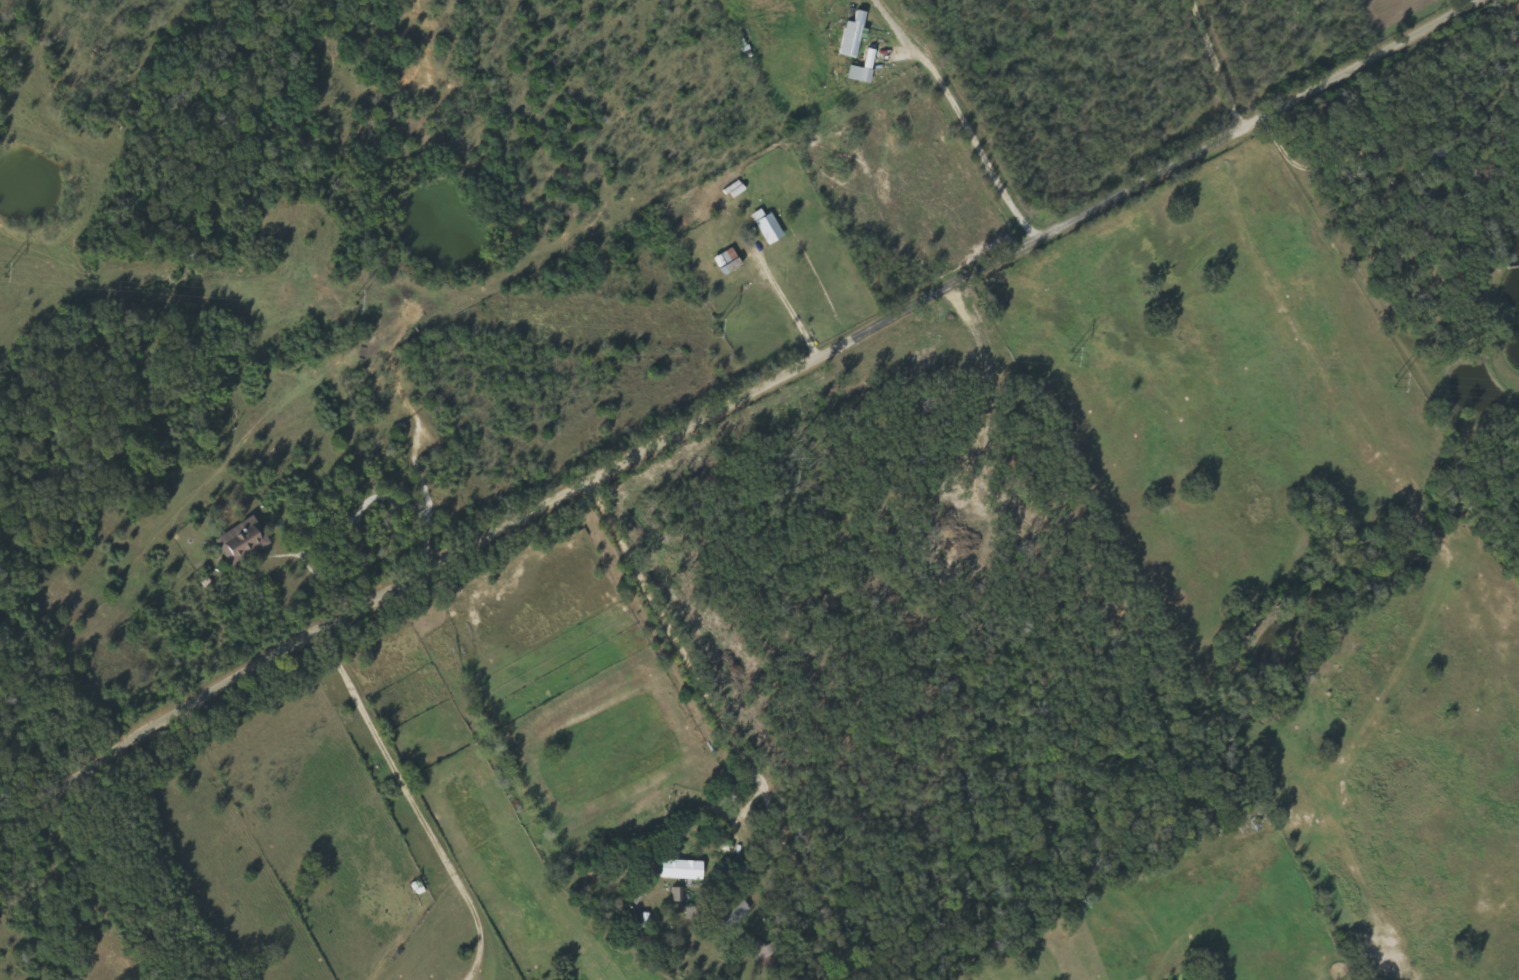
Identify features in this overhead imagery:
building: (855, 37)
building: (866, 69)
road: (826, 154)
building: (765, 226)
building: (724, 262)
power tower: (6, 271)
power tower: (357, 299)
power tower: (715, 327)
power tower: (1072, 355)
power tower: (1397, 381)
road: (735, 404)
building: (245, 541)
building: (681, 870)
road: (147, 875)
building: (735, 912)

